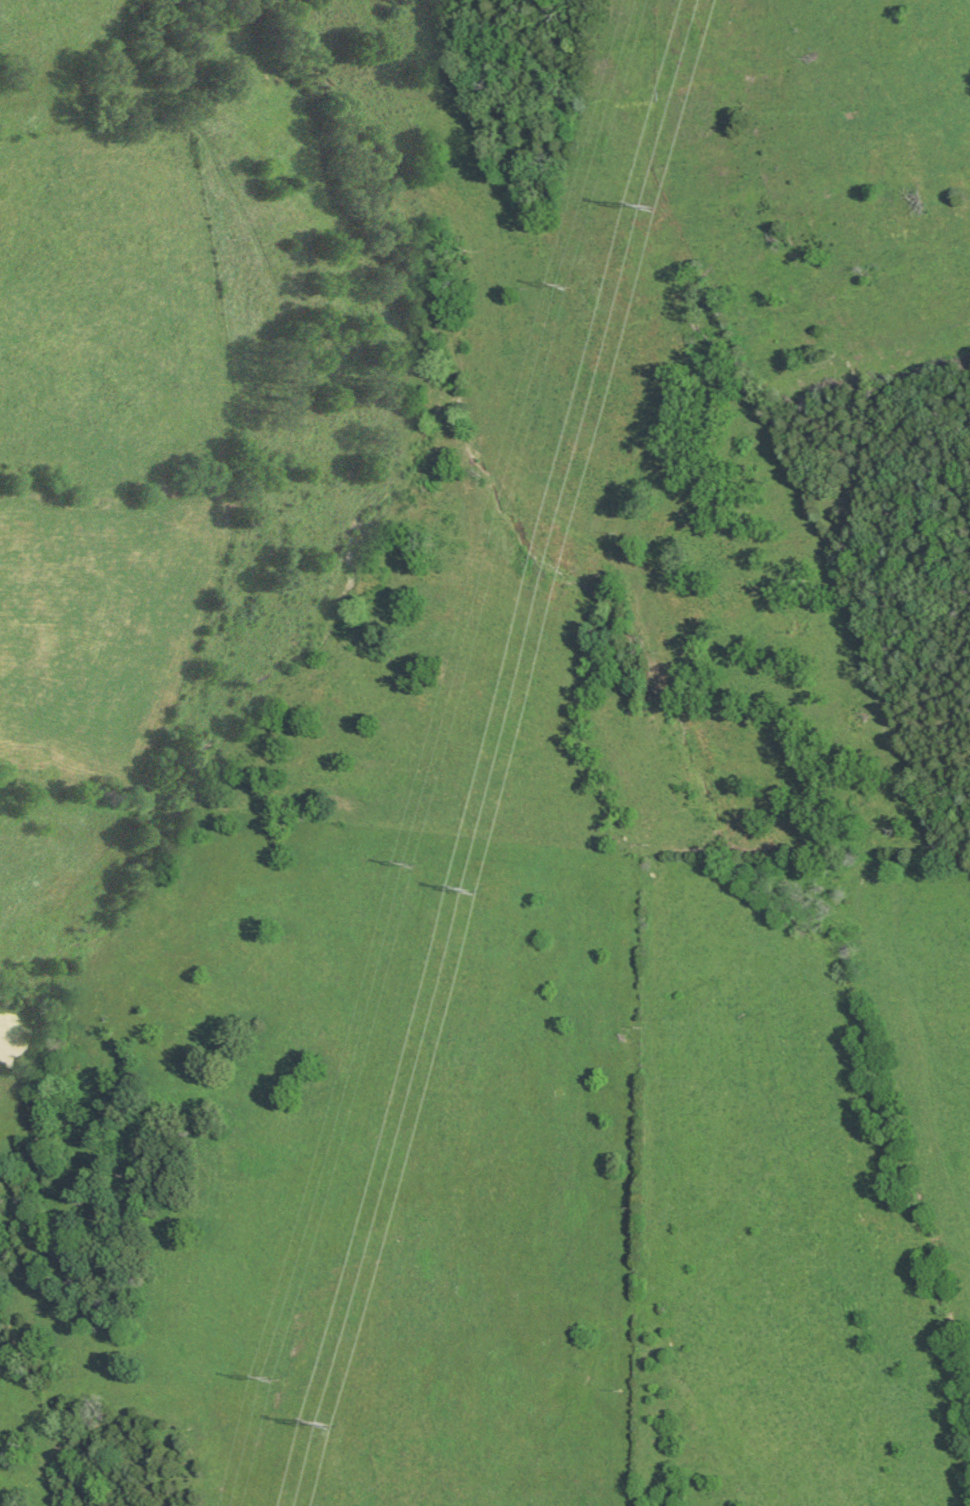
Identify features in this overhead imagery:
power tower: (649, 202)
power tower: (468, 889)
power tower: (325, 1425)

